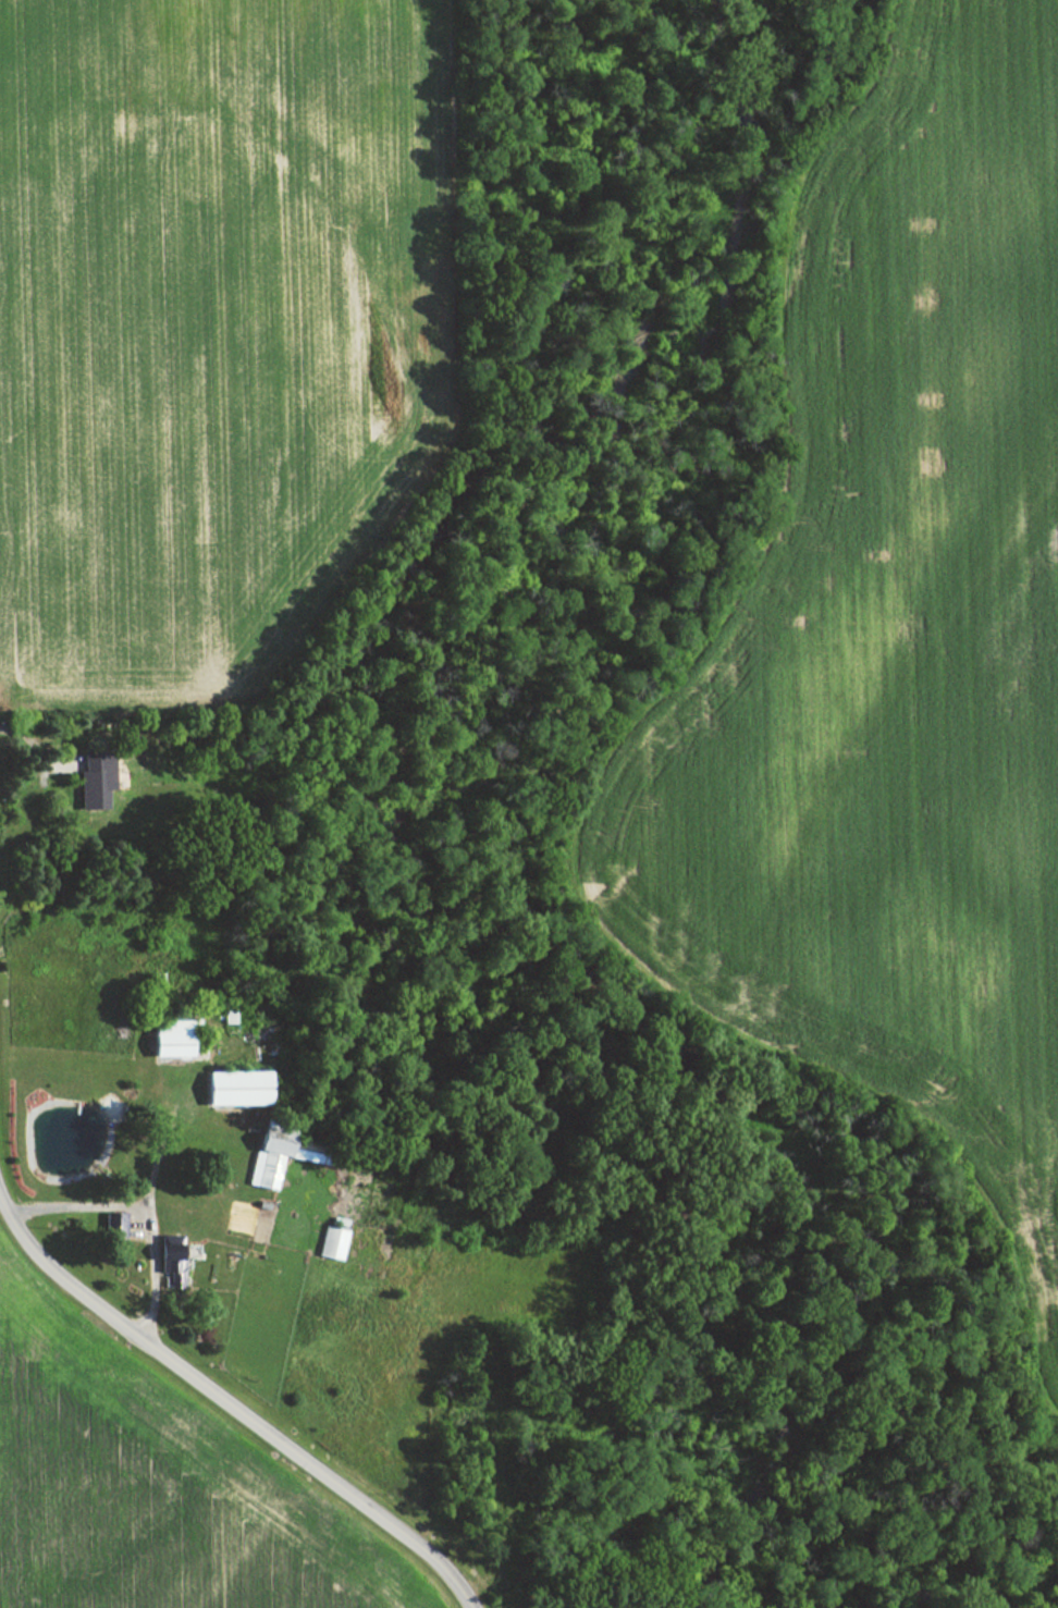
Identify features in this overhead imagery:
crop: (192, 320)
crop: (889, 648)
building: (90, 782)
building: (168, 1040)
building: (232, 1089)
building: (262, 1165)
road: (135, 1211)
building: (111, 1225)
building: (328, 1243)
building: (167, 1261)
road: (230, 1400)
crop: (150, 1489)

